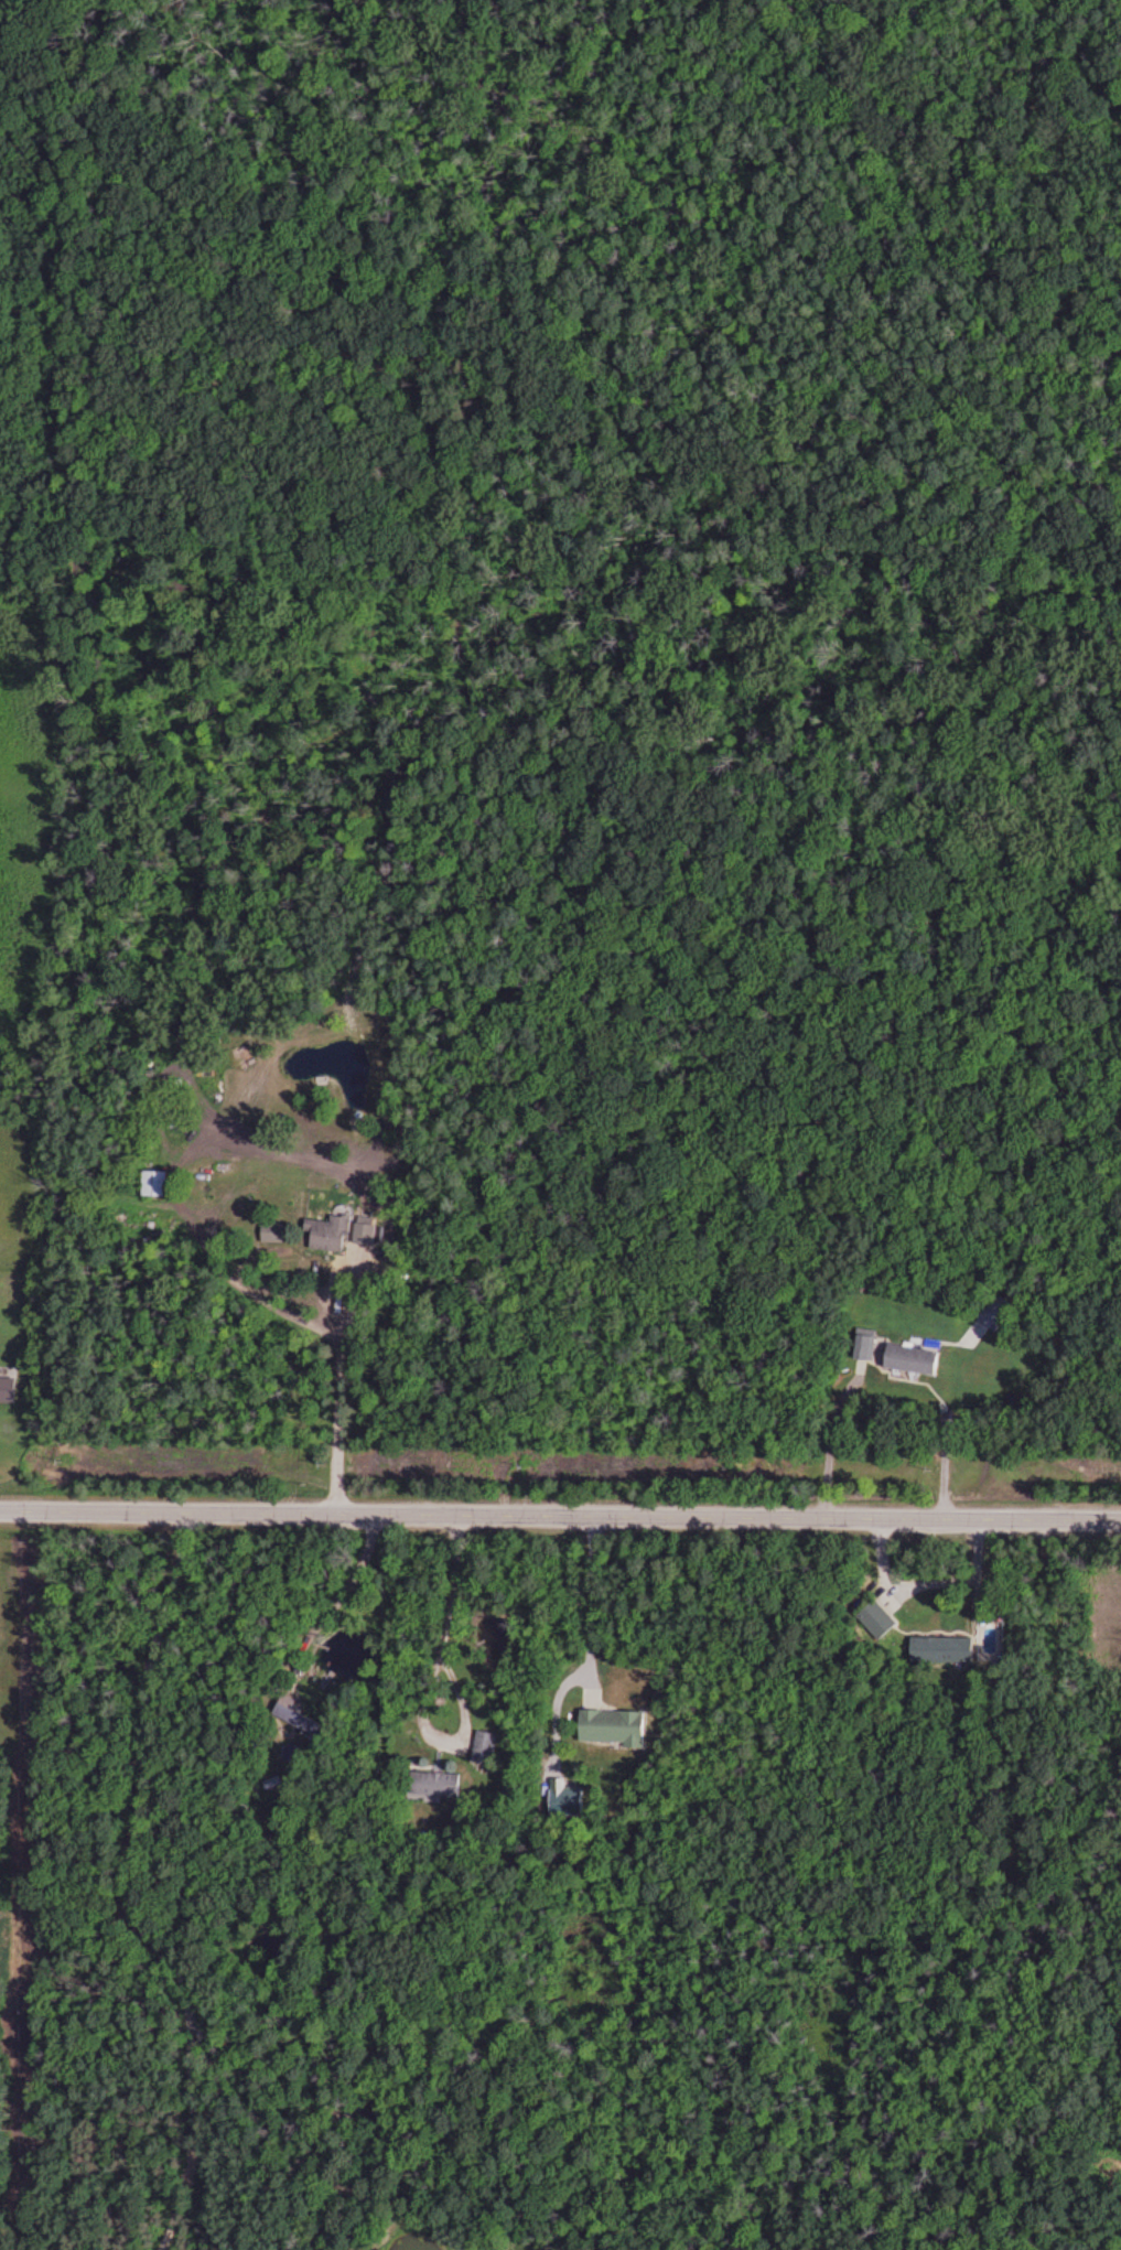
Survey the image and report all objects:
building: (149, 1183)
building: (360, 1234)
building: (323, 1235)
building: (906, 1358)
road: (333, 1392)
road: (826, 1444)
road: (560, 1518)
road: (336, 1595)
road: (583, 1603)
building: (873, 1618)
building: (938, 1647)
road: (422, 1687)
building: (607, 1724)
building: (481, 1745)
building: (430, 1781)
building: (561, 1795)
road: (121, 1890)

